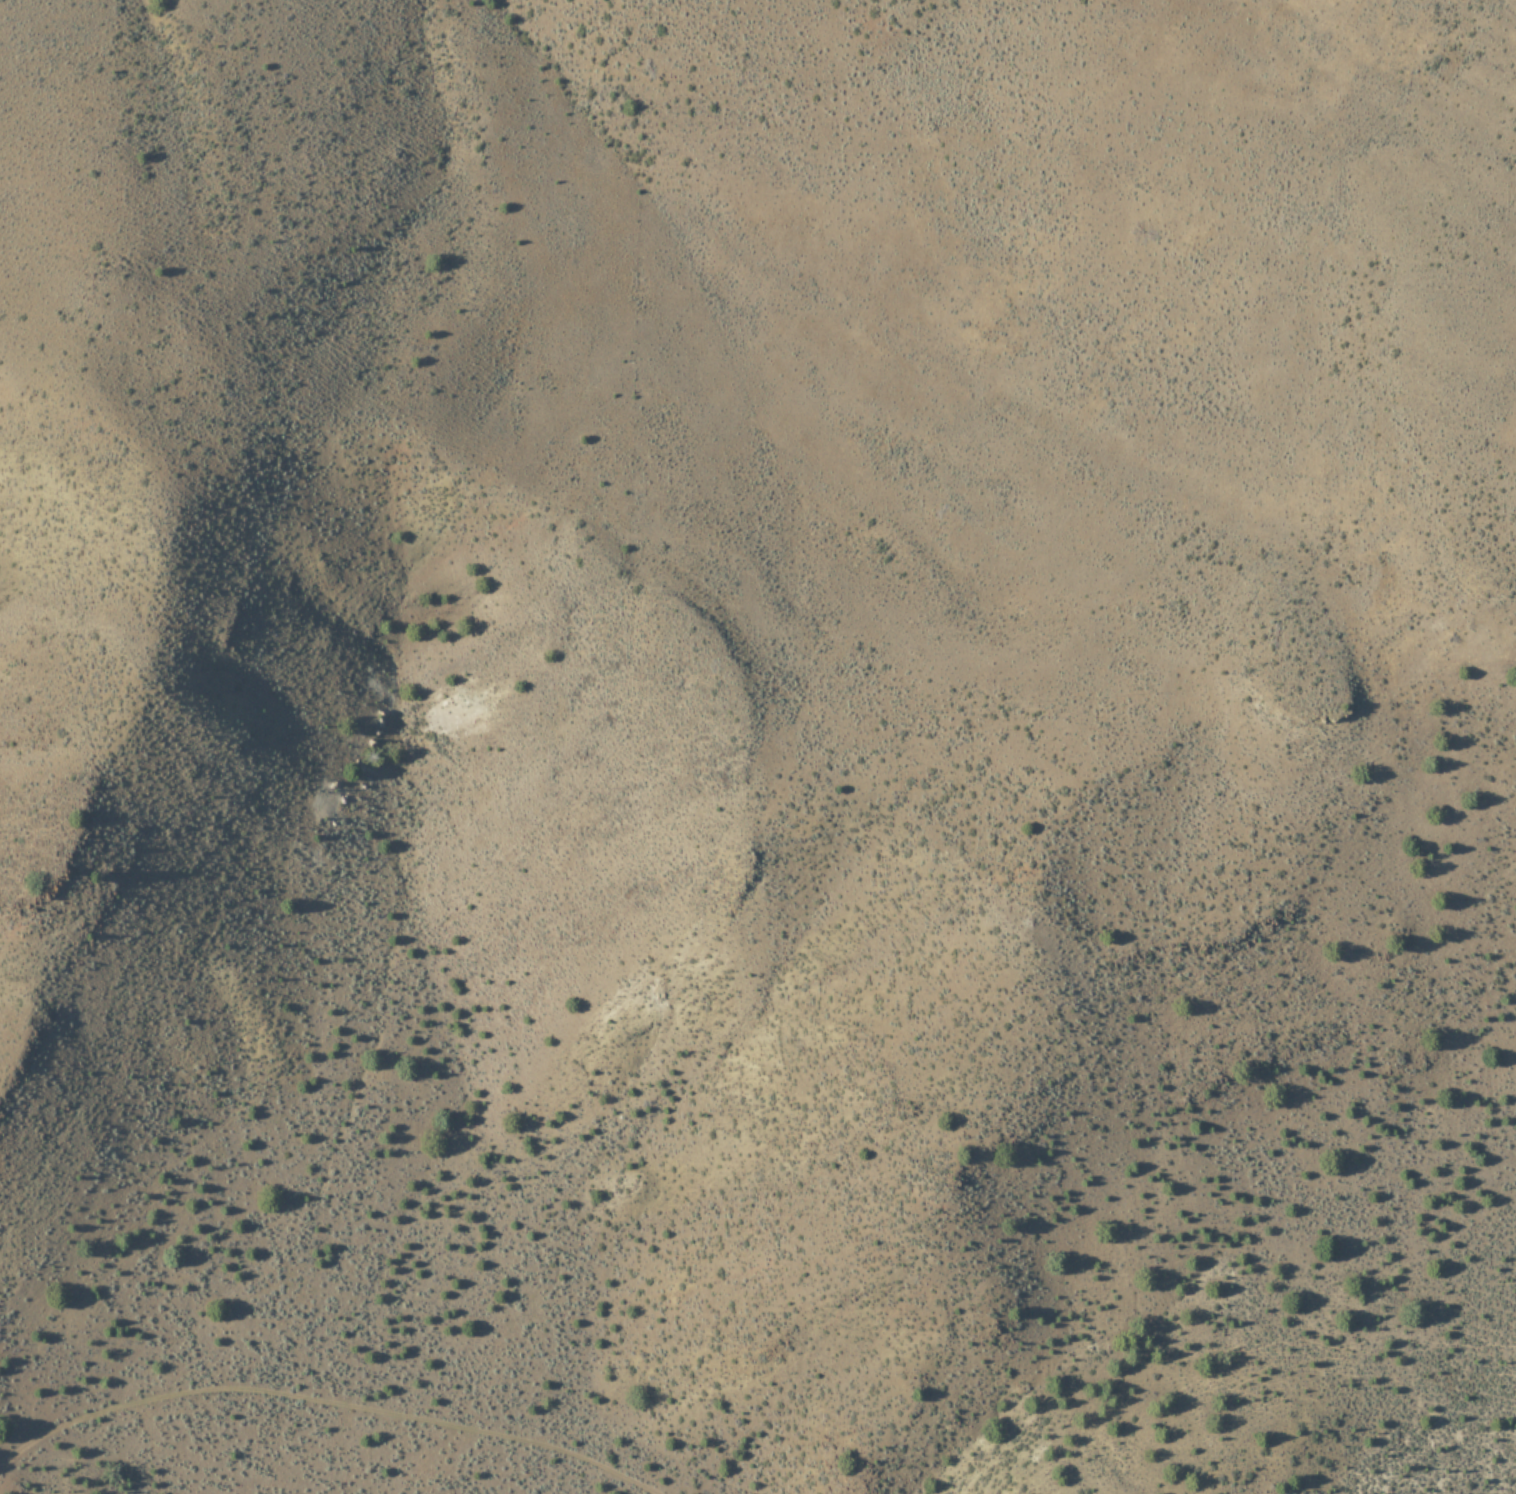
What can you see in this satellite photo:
road: (350, 1359)

